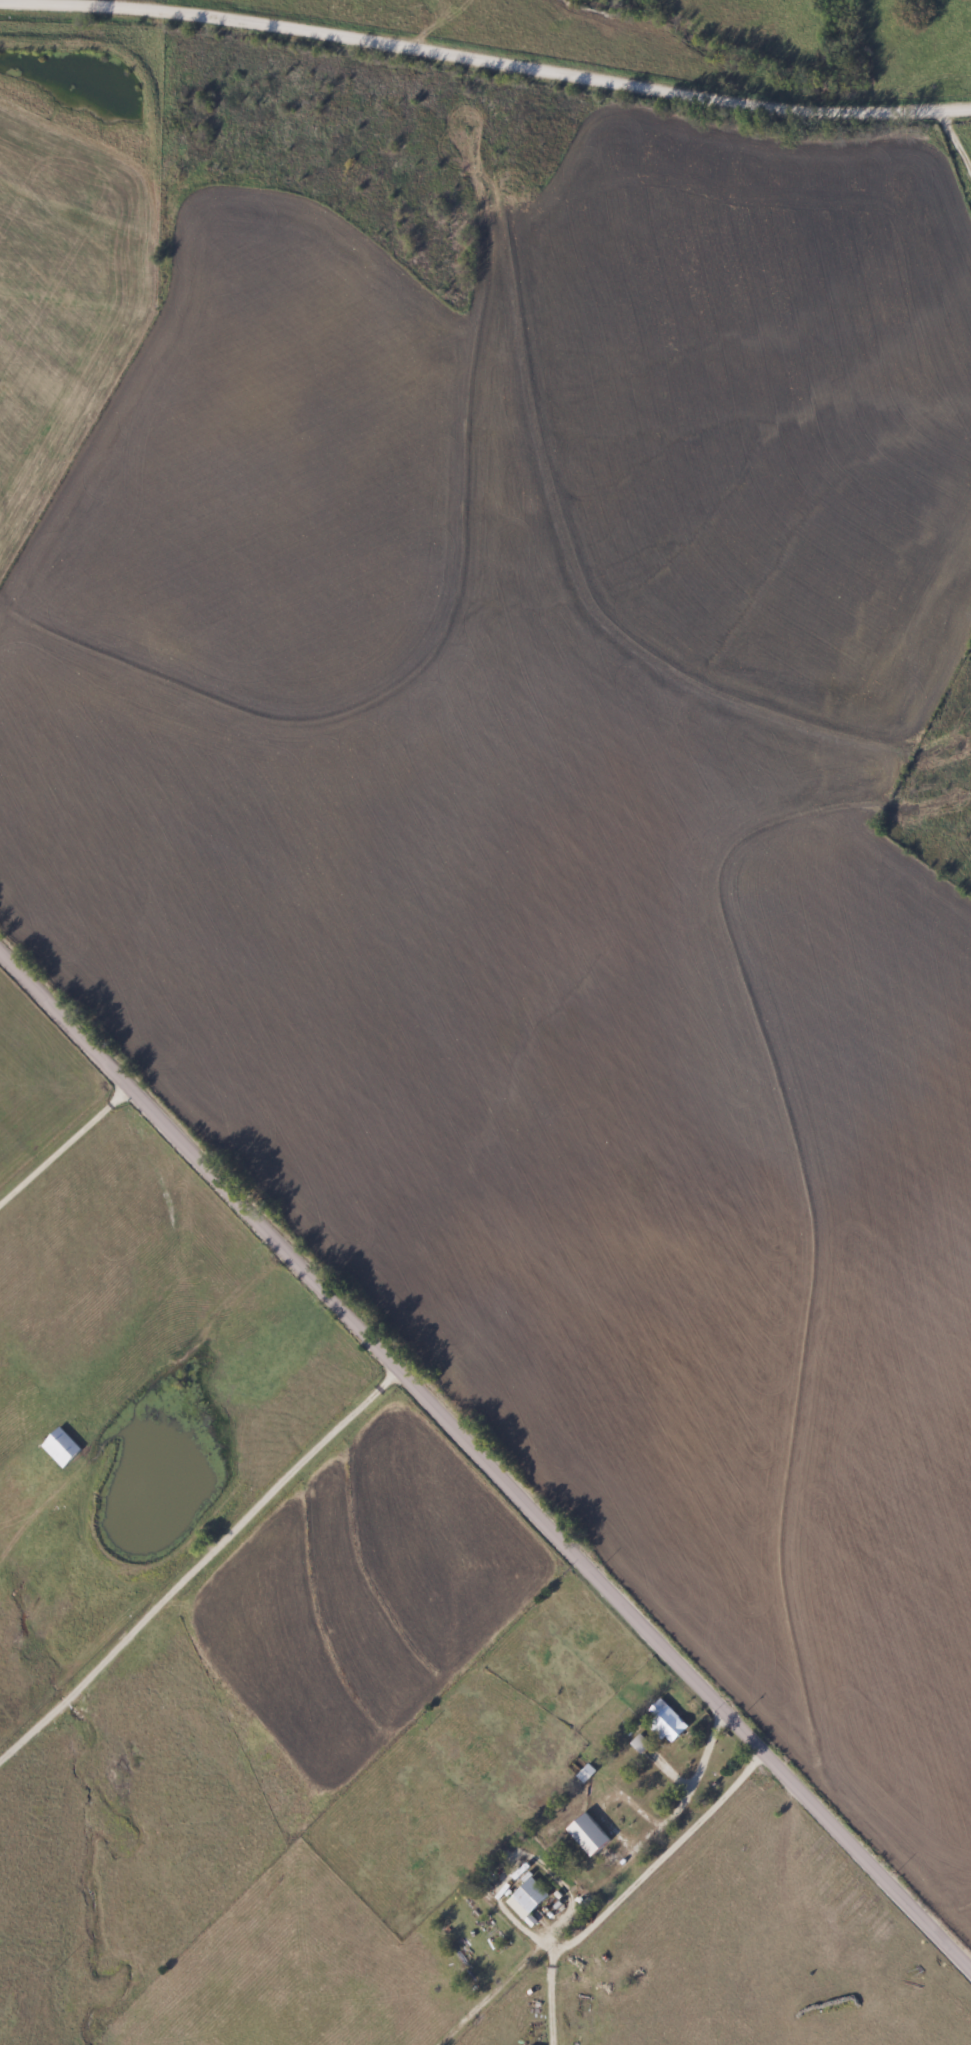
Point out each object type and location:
road: (485, 50)
road: (63, 1142)
building: (59, 1447)
road: (488, 1467)
building: (55, 1520)
road: (195, 1559)
building: (667, 1725)
building: (638, 1745)
building: (581, 1773)
road: (688, 1773)
building: (585, 1836)
road: (623, 1889)
building: (524, 1899)

